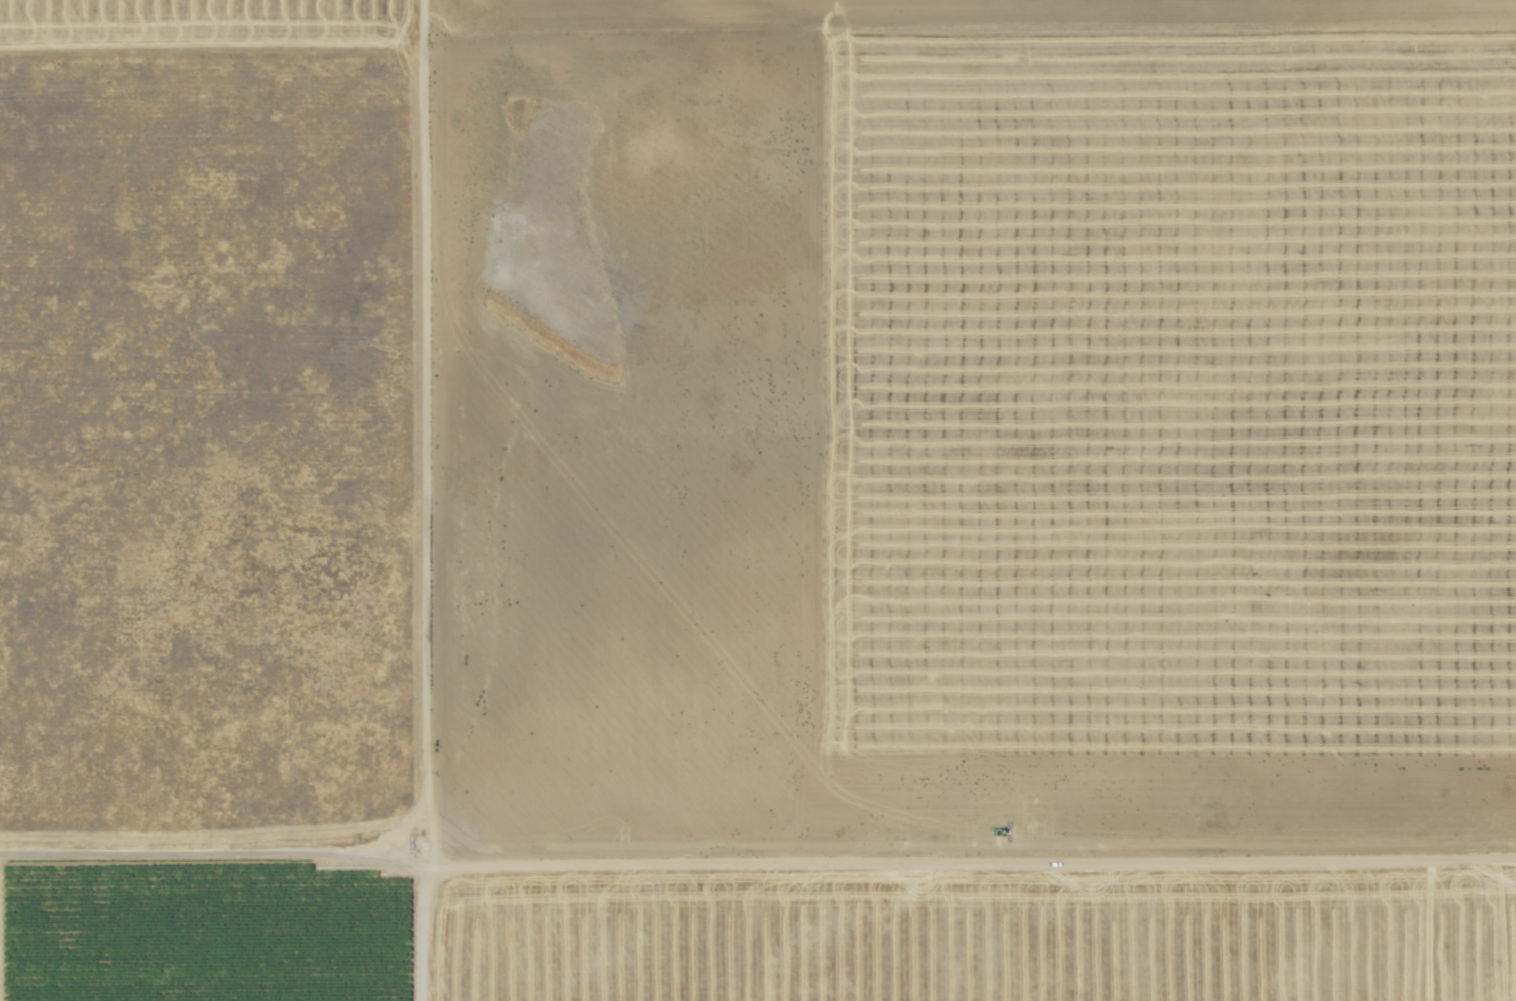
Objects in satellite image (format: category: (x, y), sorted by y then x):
road: (414, 500)
road: (757, 856)

